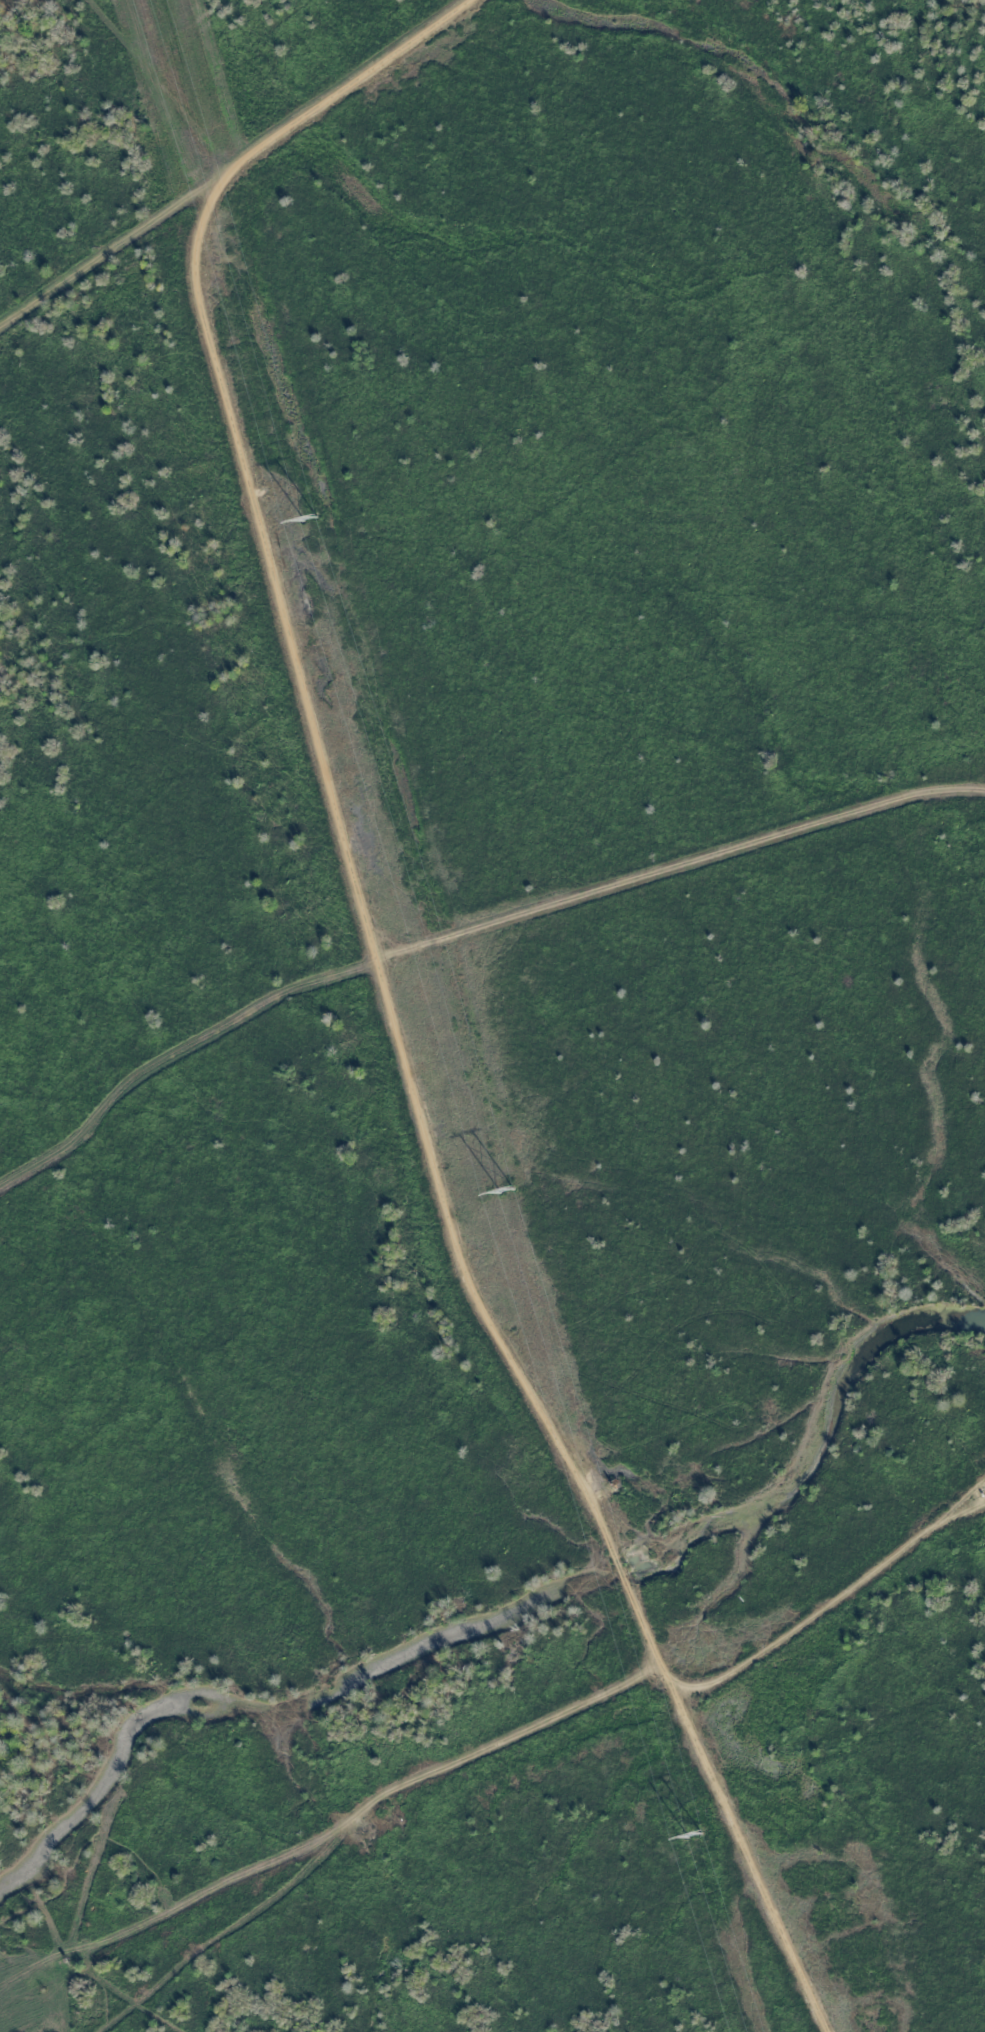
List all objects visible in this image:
road: (237, 172)
power tower: (312, 518)
power tower: (507, 1191)
power tower: (697, 1835)

